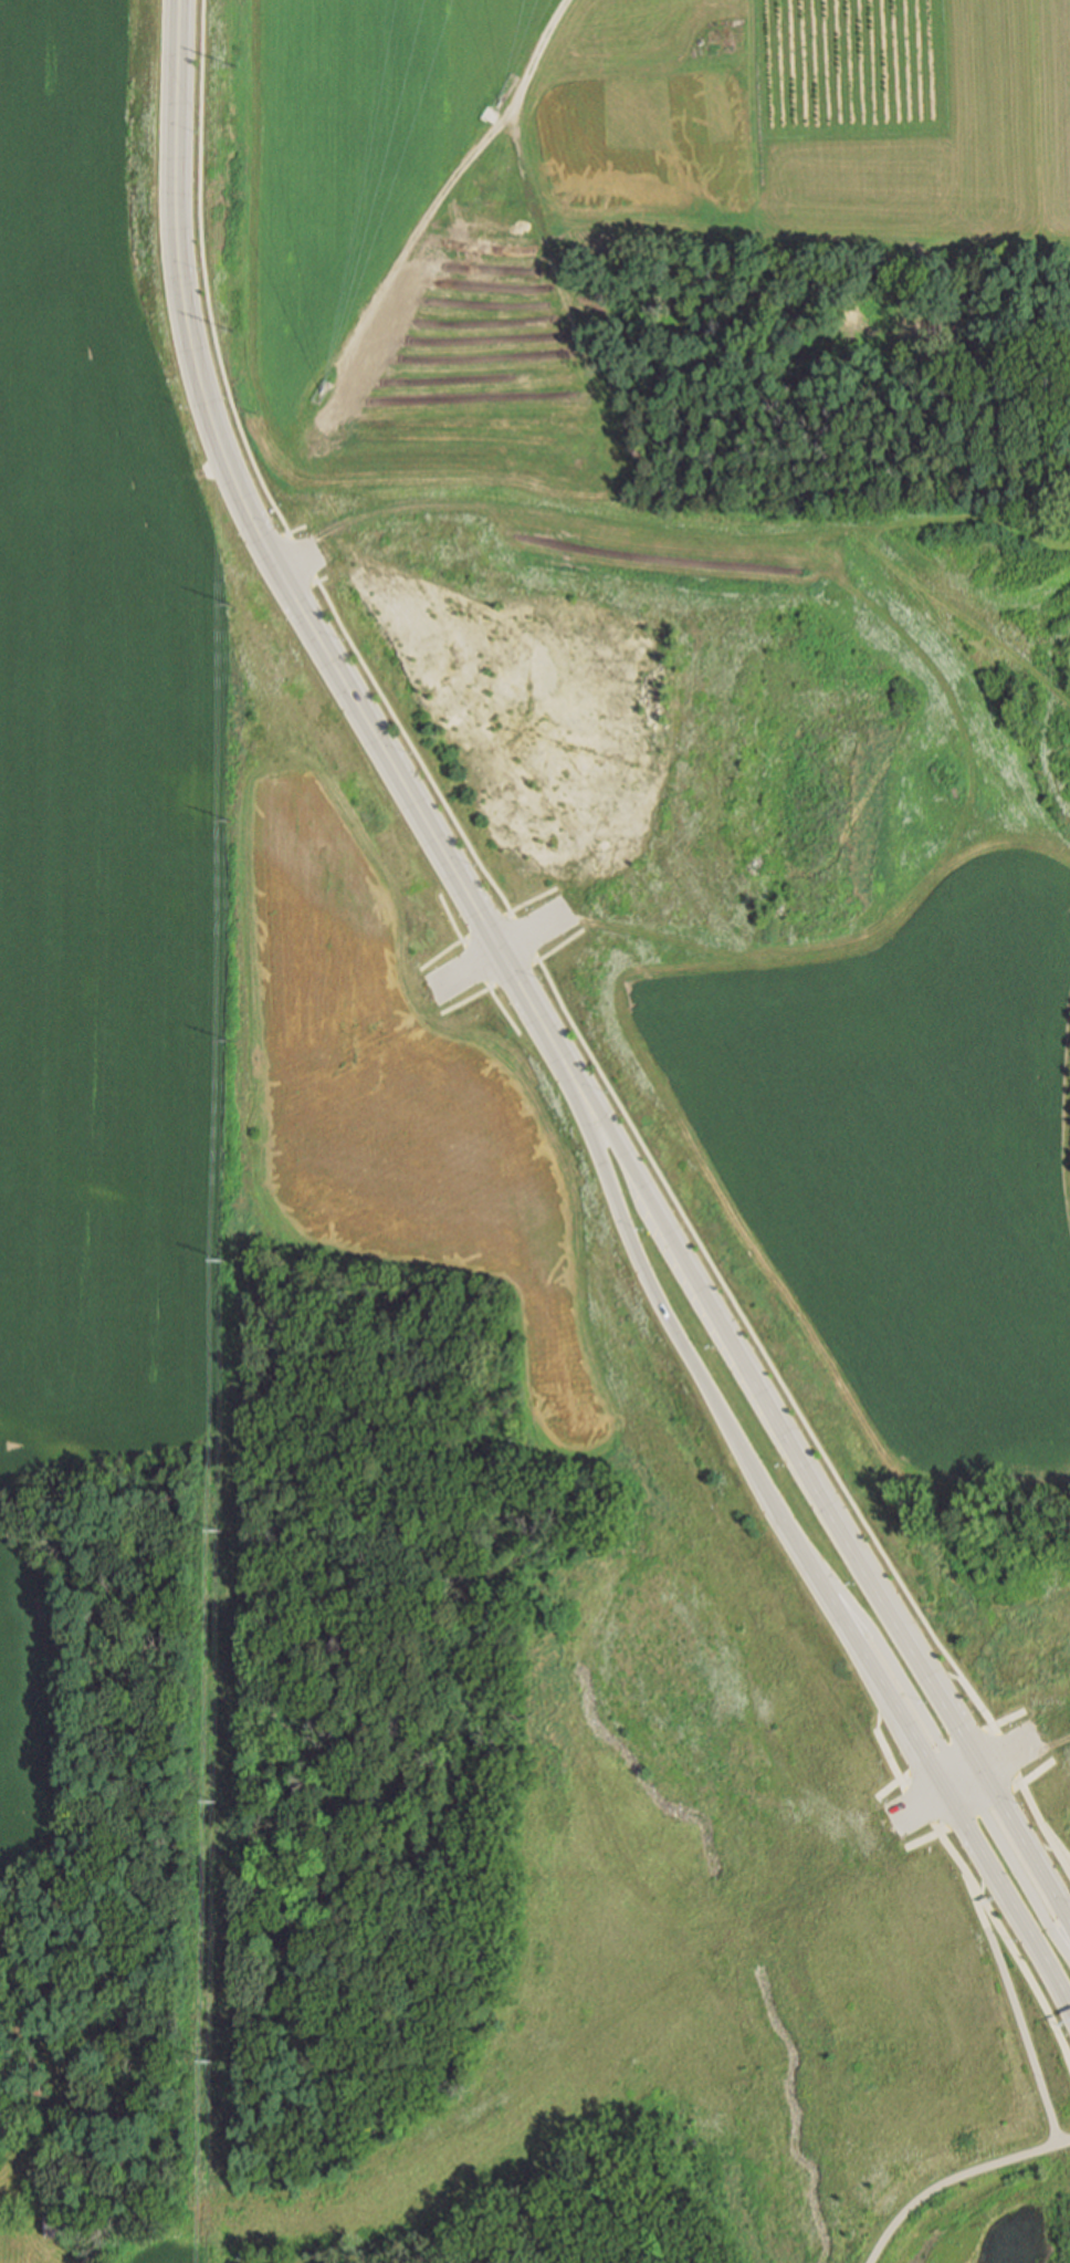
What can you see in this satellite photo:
road: (535, 56)
power tower: (237, 64)
road: (208, 273)
power tower: (235, 330)
building: (967, 357)
road: (206, 473)
road: (283, 535)
road: (302, 557)
road: (271, 561)
road: (297, 562)
road: (307, 586)
power tower: (234, 603)
crop: (728, 651)
road: (410, 749)
power tower: (229, 821)
crop: (99, 845)
road: (533, 899)
road: (449, 918)
road: (485, 926)
road: (525, 937)
road: (560, 946)
road: (501, 953)
road: (442, 956)
road: (475, 964)
road: (515, 974)
road: (466, 1001)
road: (505, 1011)
power tower: (225, 1040)
power tower: (223, 1260)
road: (764, 1346)
road: (768, 1398)
road: (727, 1423)
power tower: (222, 1532)
road: (894, 1662)
road: (943, 1675)
road: (995, 1728)
road: (881, 1735)
road: (1009, 1756)
road: (972, 1774)
road: (905, 1777)
road: (1028, 1782)
power tower: (221, 1804)
road: (922, 1806)
road: (1046, 1826)
road: (1018, 1834)
road: (937, 1835)
road: (1040, 1845)
road: (1062, 1849)
road: (1016, 1867)
road: (988, 1880)
road: (1006, 1889)
road: (1009, 1941)
road: (1018, 2009)
power tower: (219, 2064)
building: (20, 2084)
road: (955, 2179)
park: (968, 2209)
building: (54, 2222)

